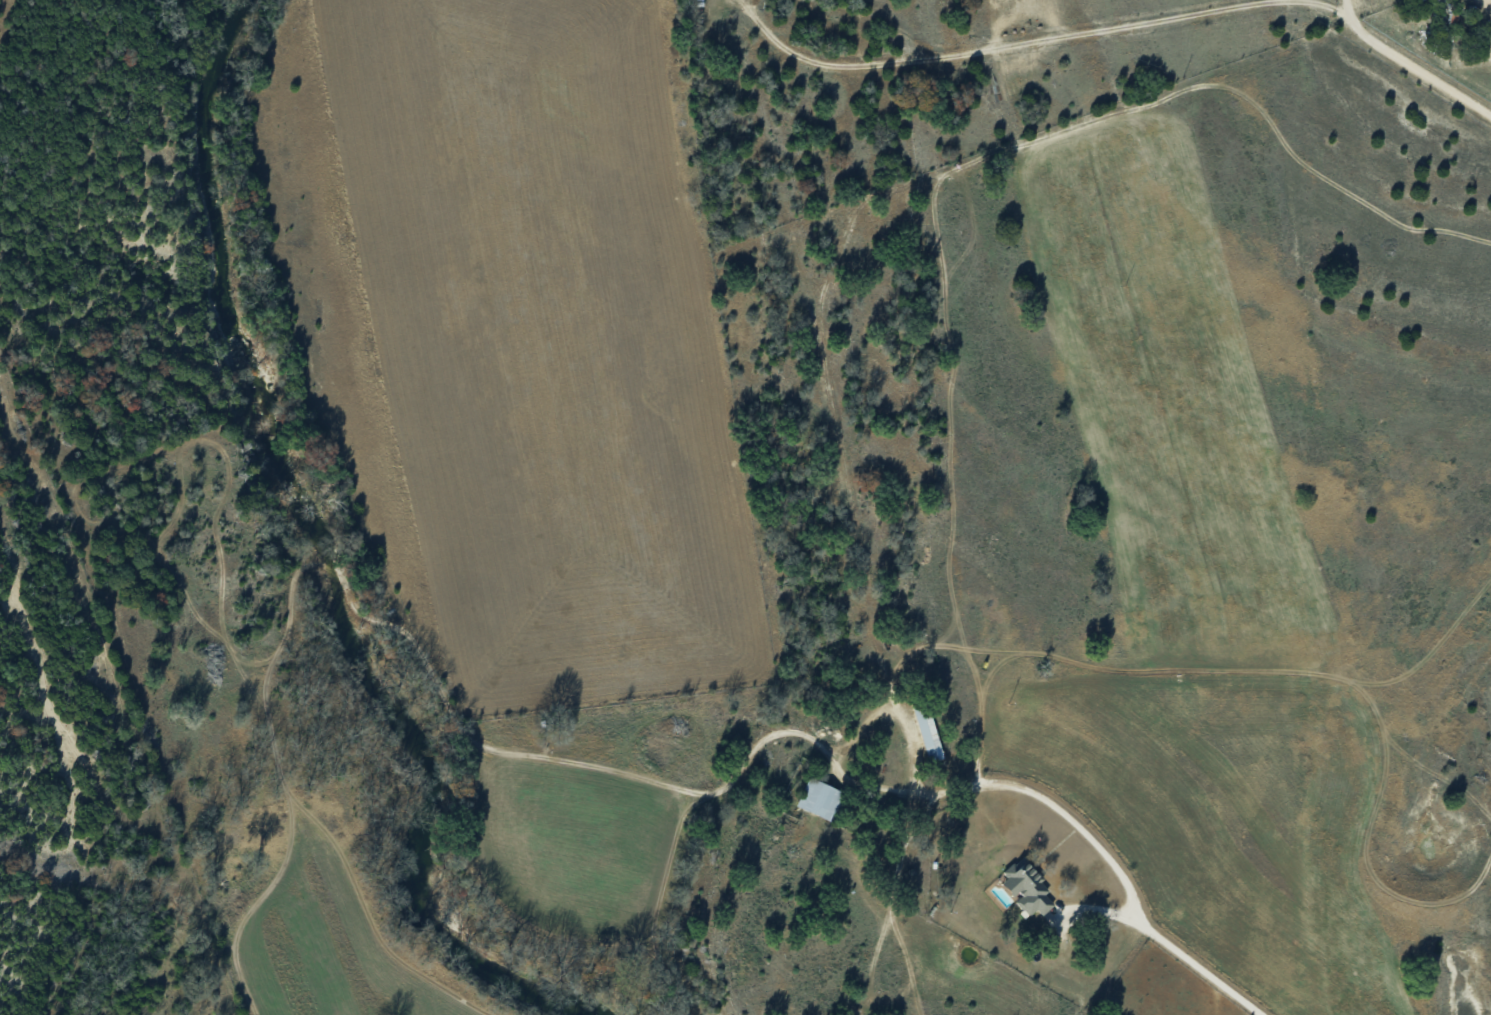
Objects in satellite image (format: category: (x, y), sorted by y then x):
road: (1351, 8)
road: (1117, 32)
building: (926, 733)
building: (817, 798)
road: (1088, 835)
building: (1028, 888)

